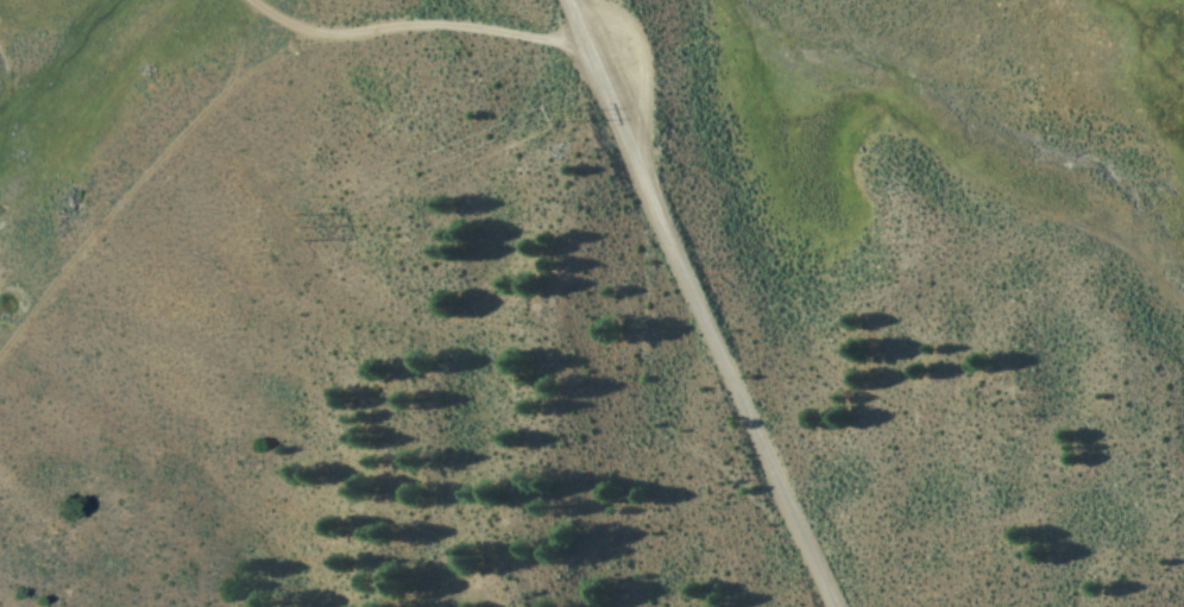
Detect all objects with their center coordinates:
road: (270, 15)
road: (437, 23)
power tower: (563, 110)
road: (146, 196)
power tower: (284, 225)
road: (695, 304)

